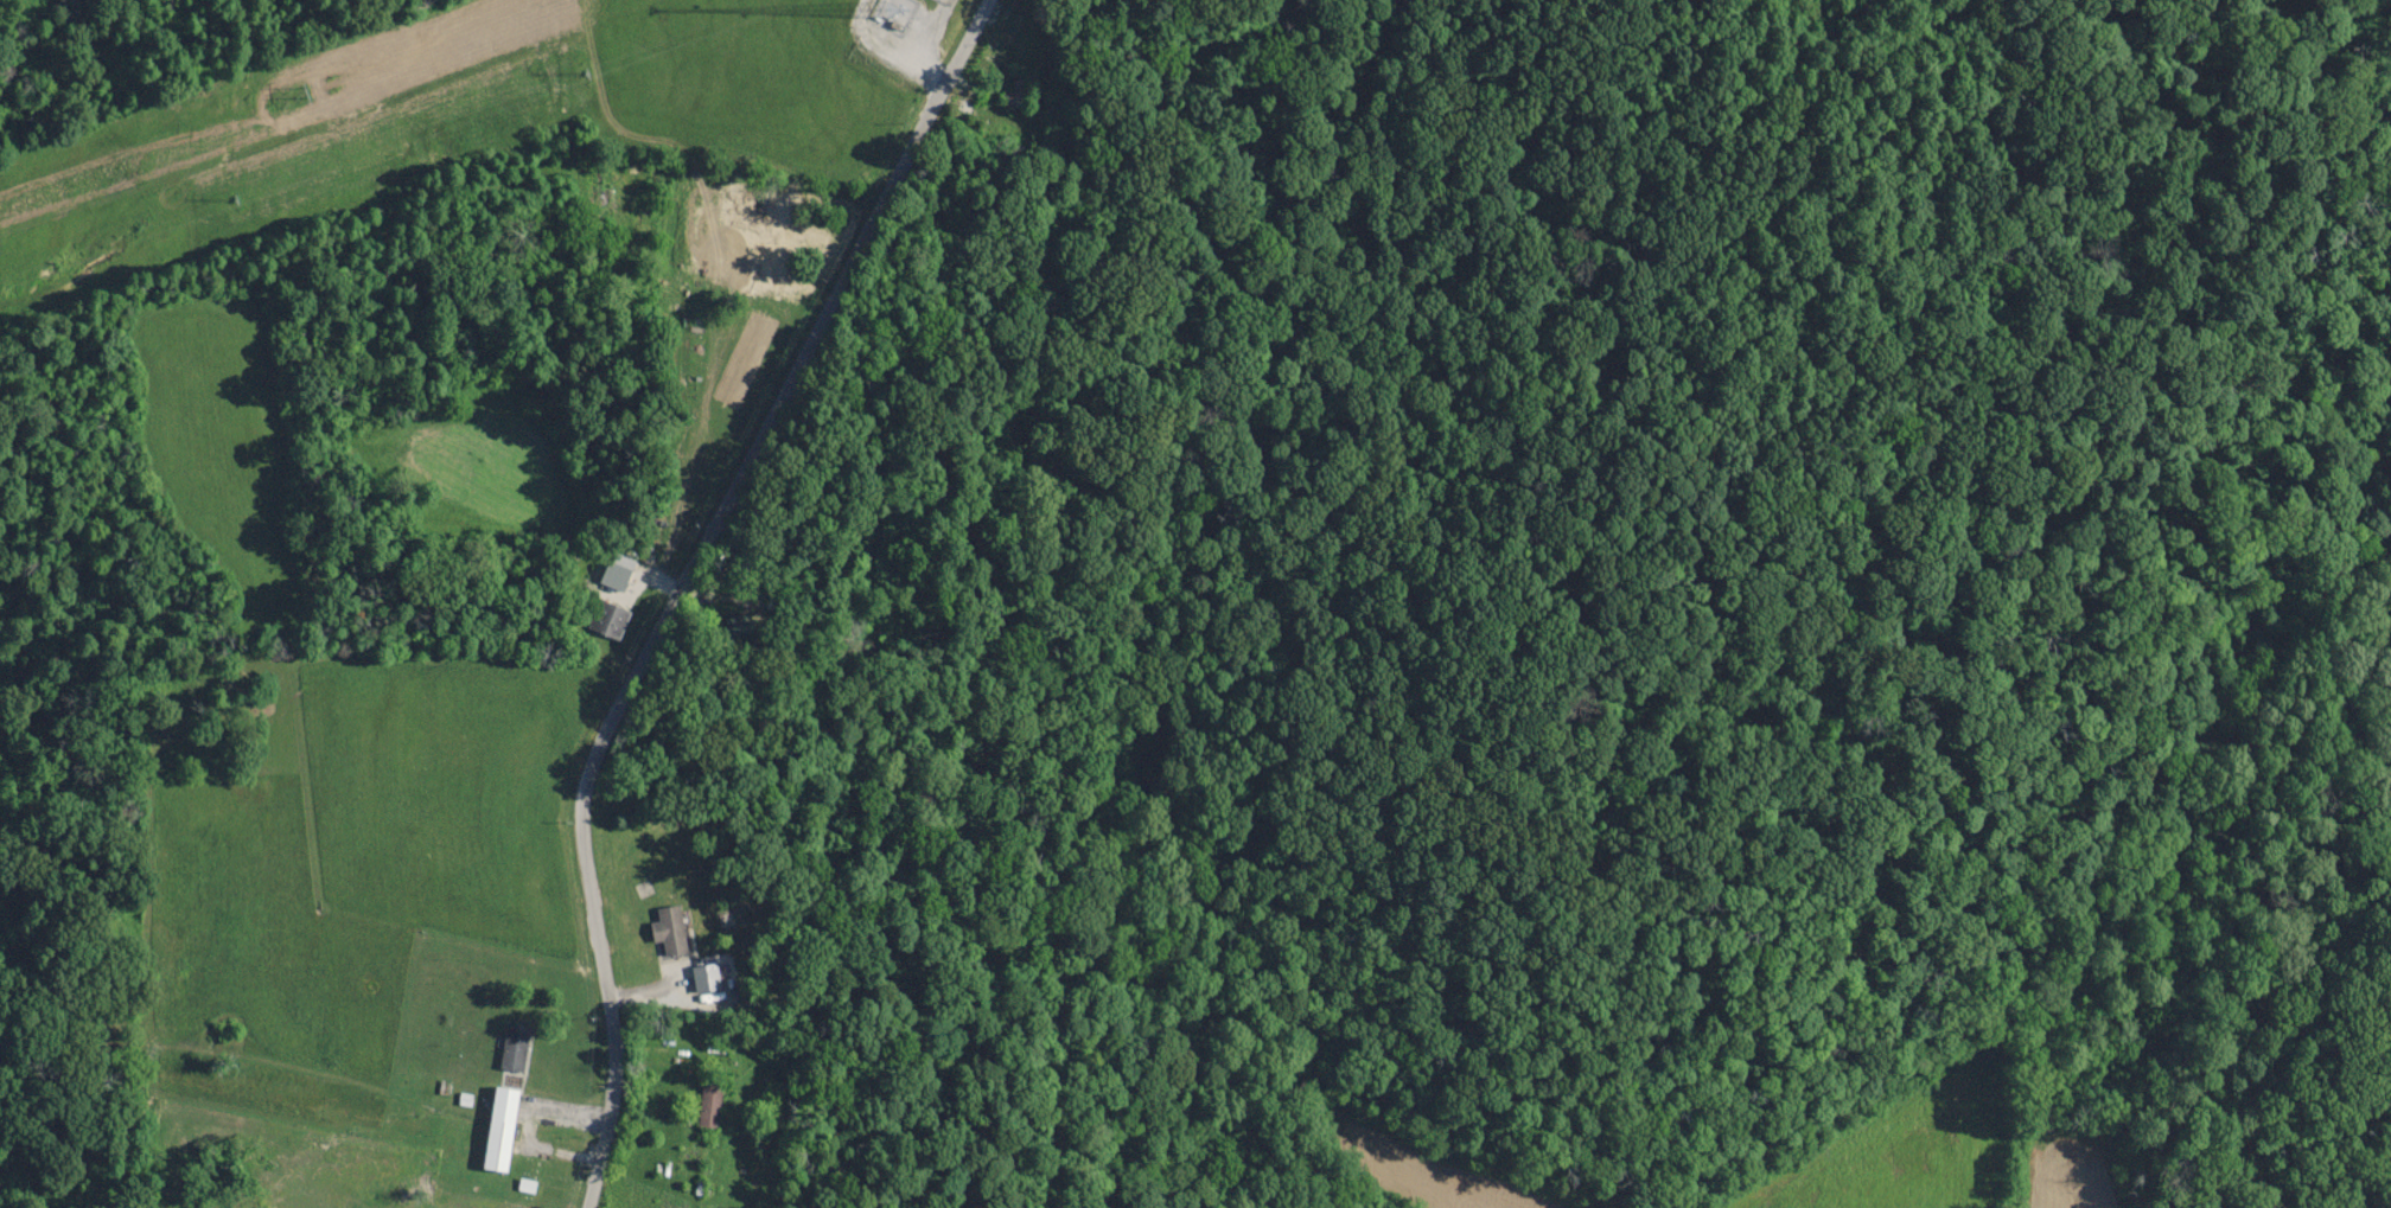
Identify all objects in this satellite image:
building: (1015, 91)
building: (764, 243)
road: (678, 579)
building: (606, 620)
building: (665, 932)
building: (511, 1048)
building: (706, 1106)
building: (497, 1130)

